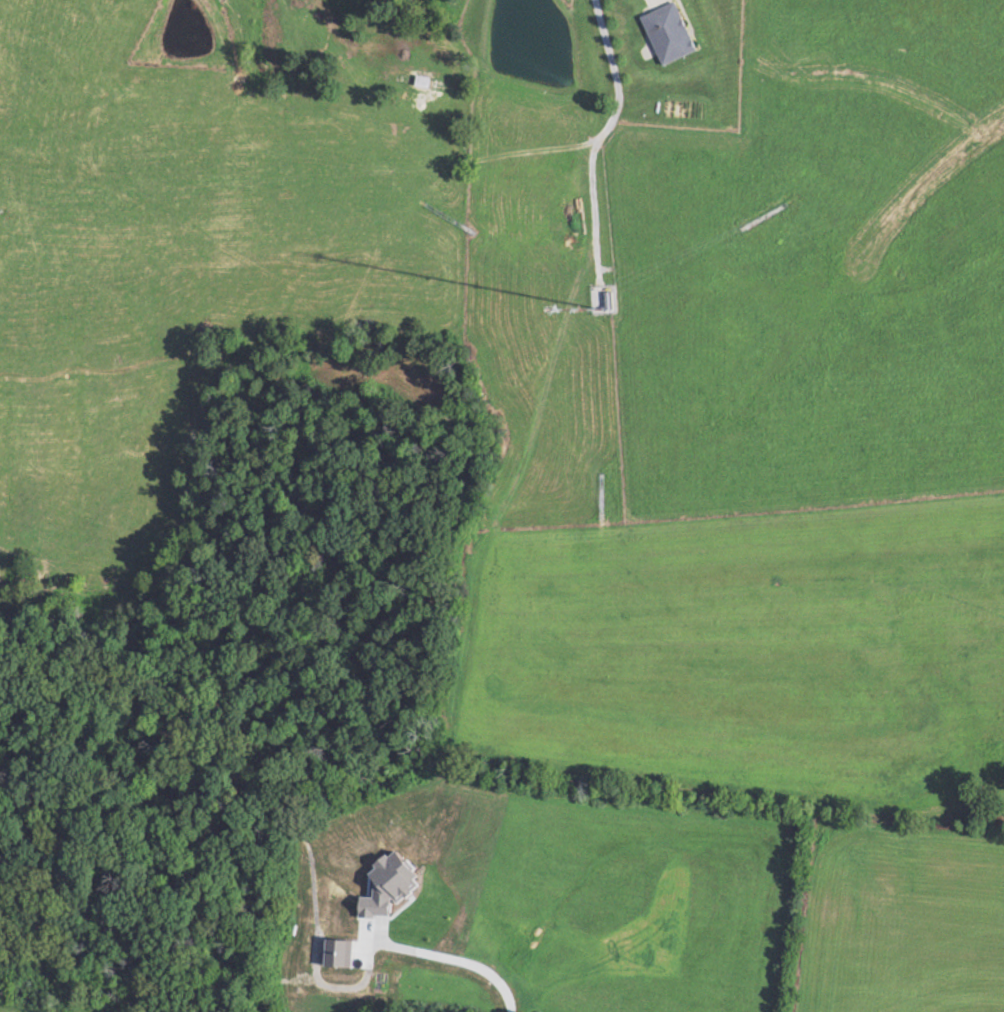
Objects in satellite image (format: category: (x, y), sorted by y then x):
building: (671, 33)
building: (423, 81)
building: (610, 300)

